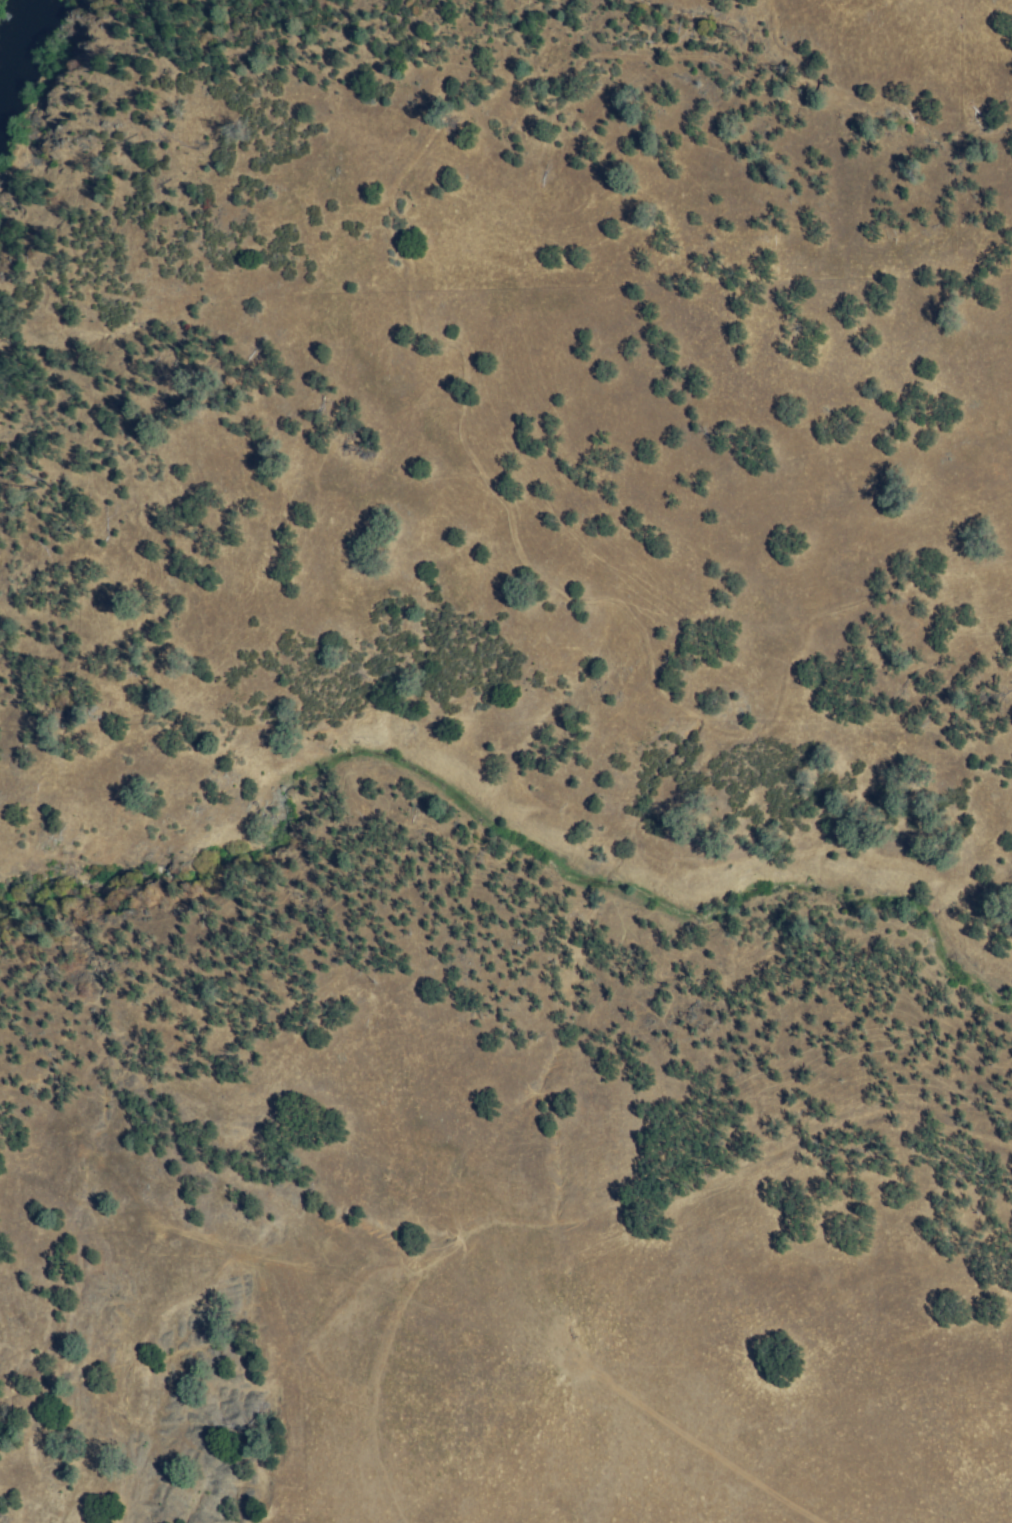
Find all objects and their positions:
river: (7, 28)

